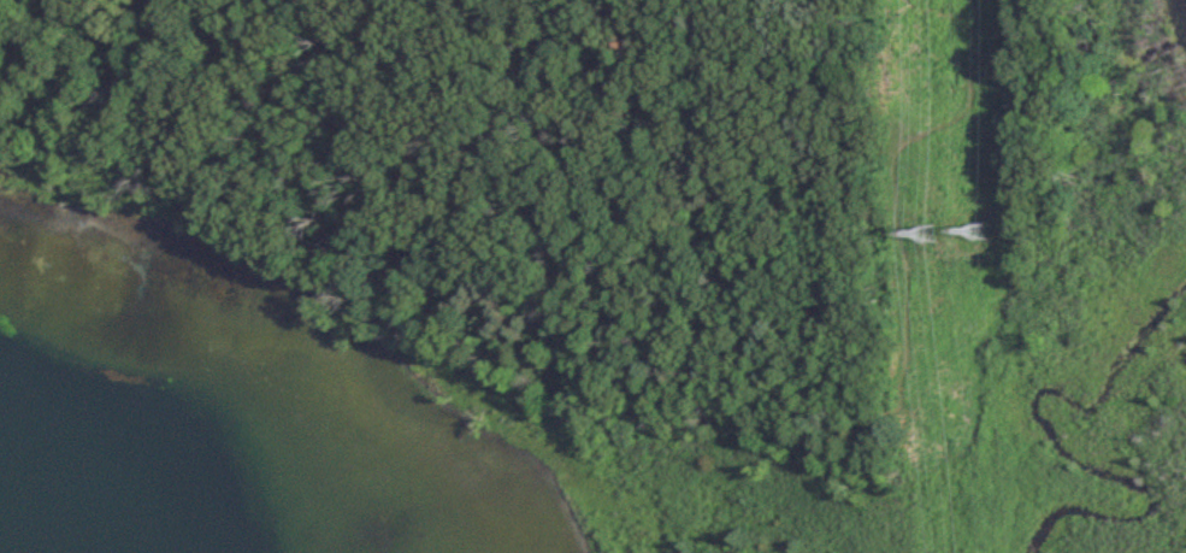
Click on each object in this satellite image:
power tower: (989, 231)
power tower: (938, 233)

